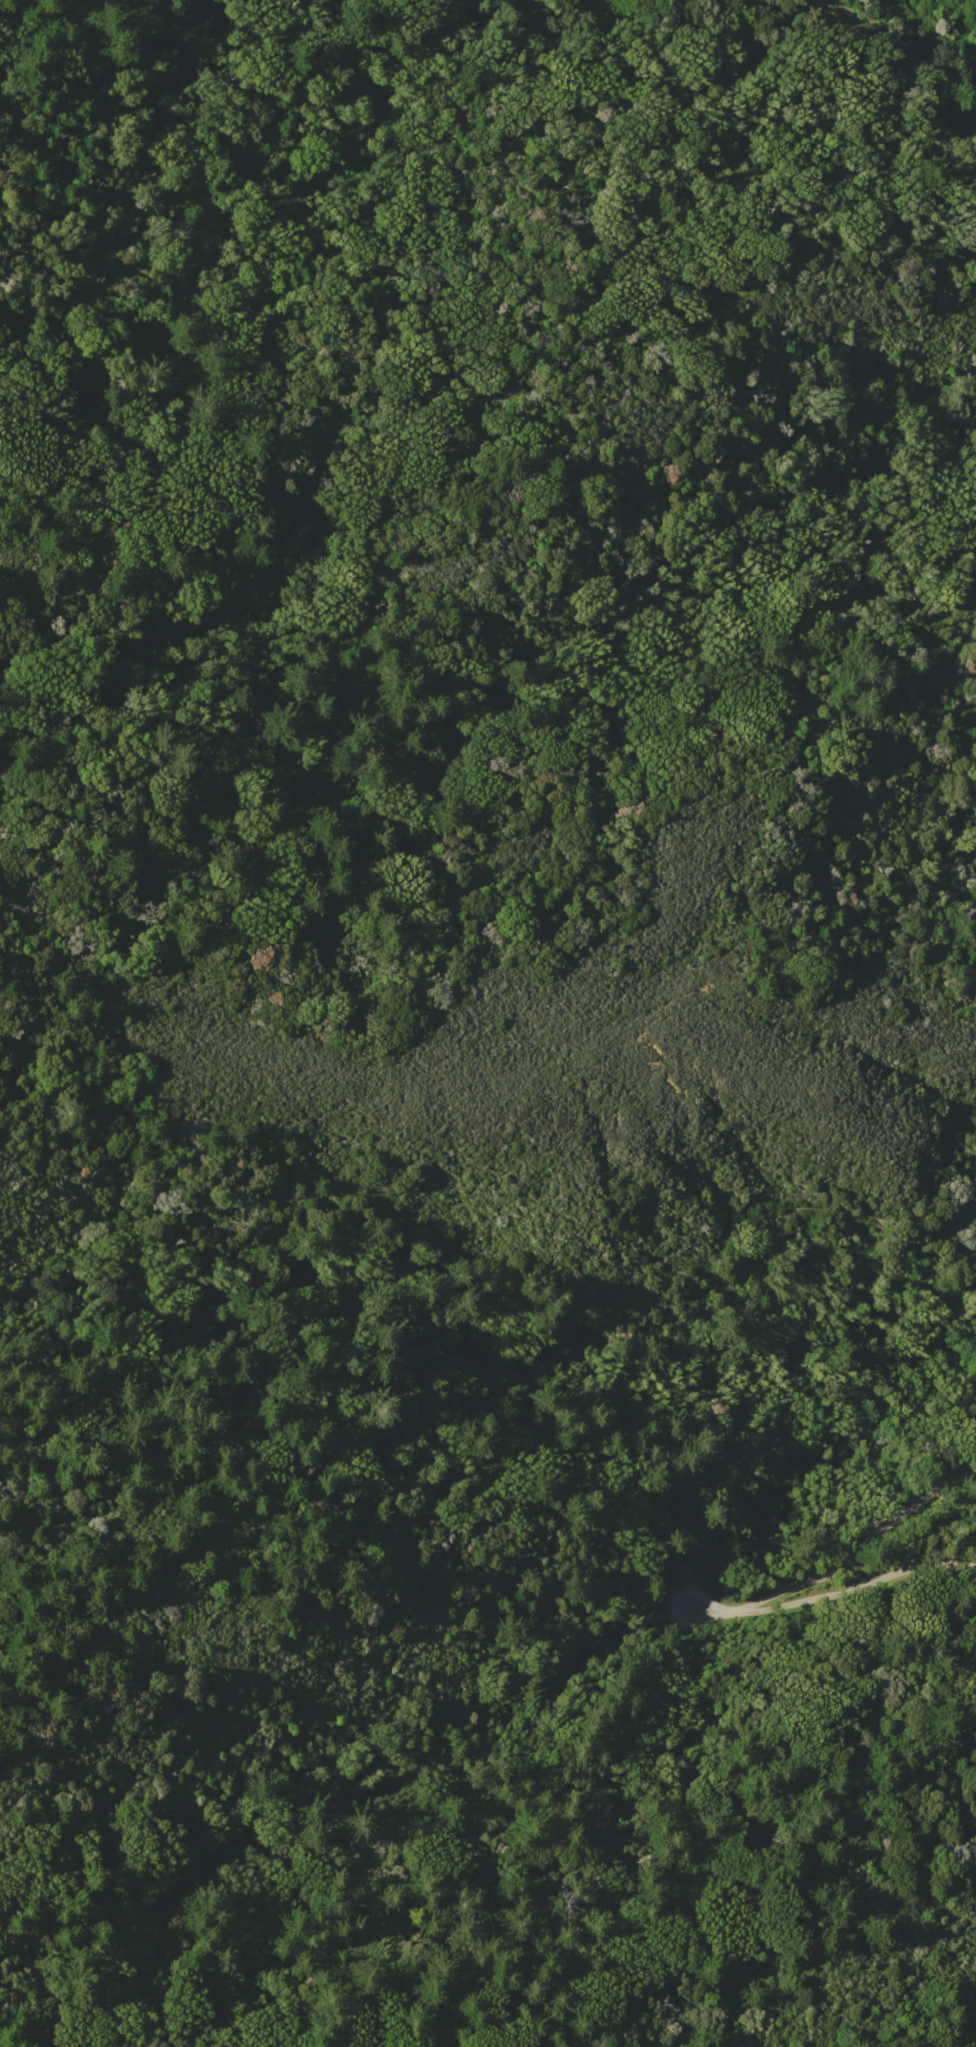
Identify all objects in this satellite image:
road: (959, 27)
road: (818, 1573)
road: (752, 1603)

